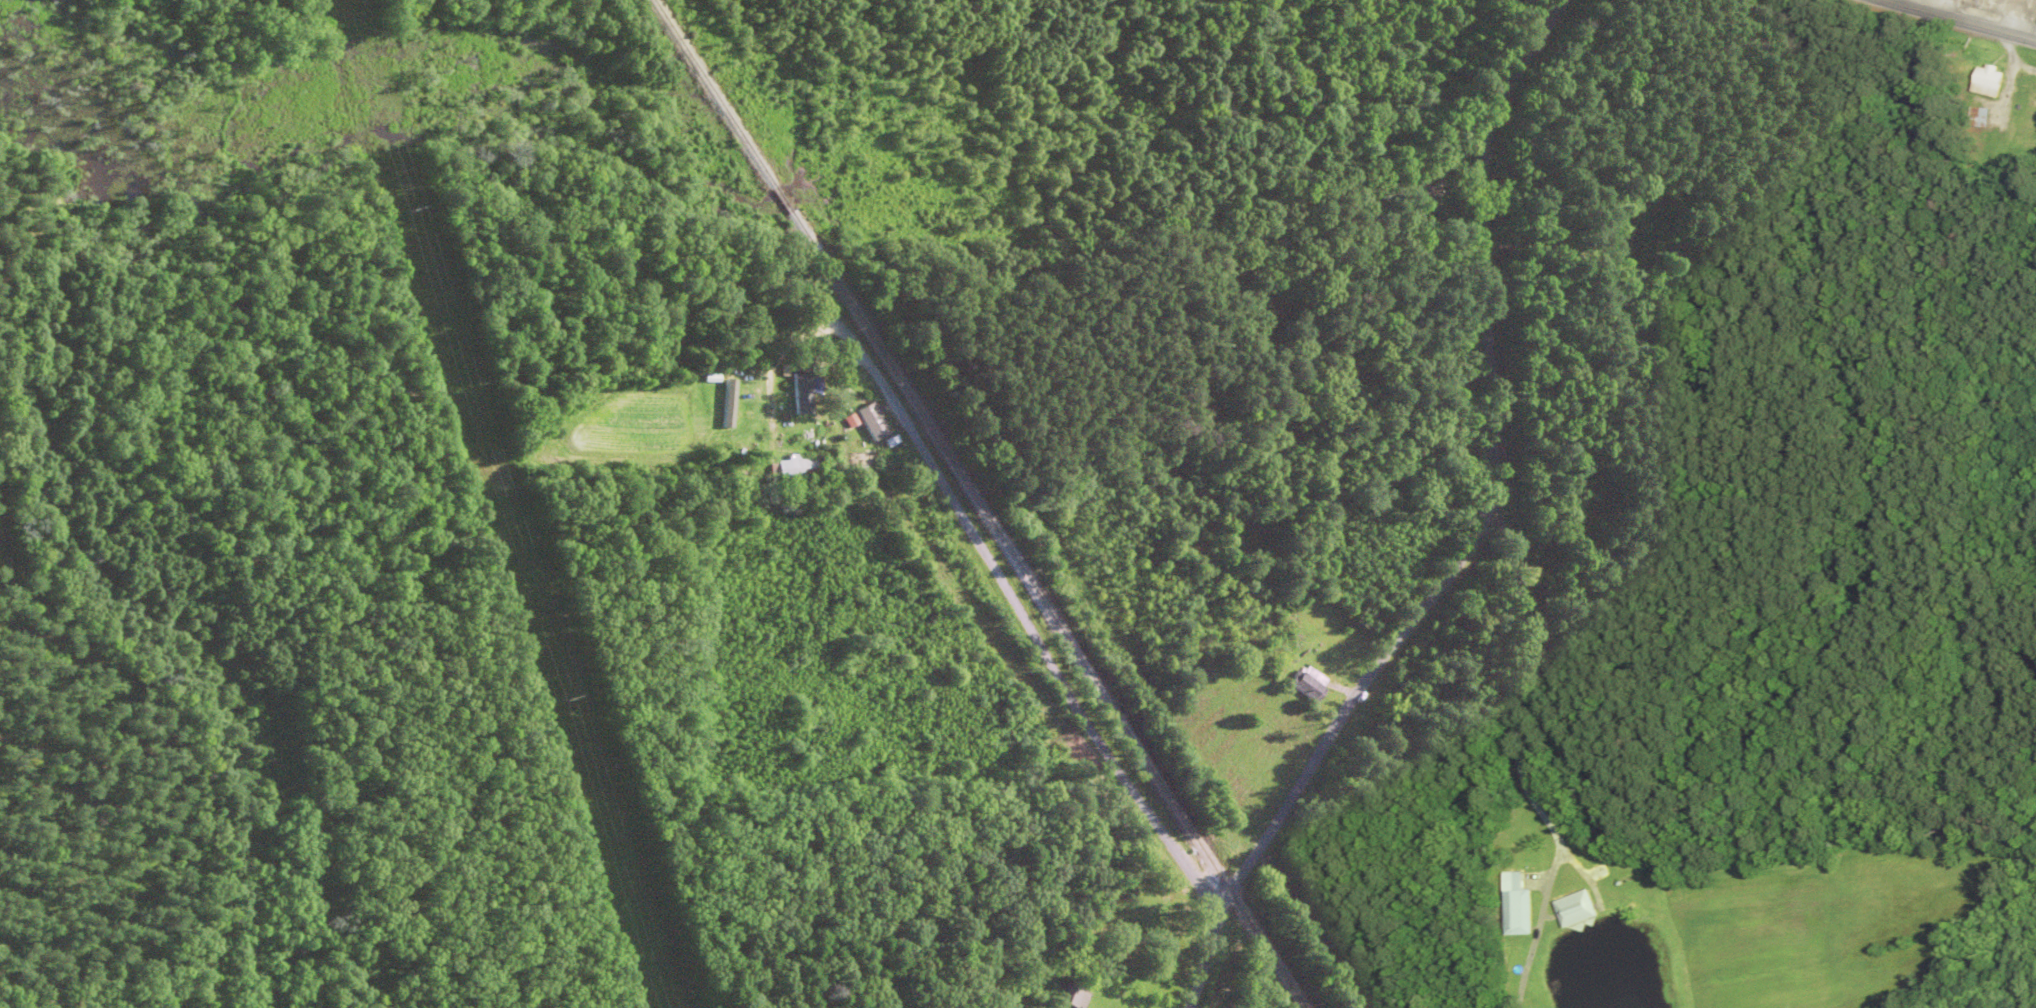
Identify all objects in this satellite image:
road: (1957, 20)
building: (1990, 81)
building: (1426, 190)
building: (1662, 260)
building: (802, 393)
building: (867, 429)
building: (791, 469)
road: (1477, 475)
road: (931, 488)
building: (915, 497)
railway: (976, 505)
building: (1246, 598)
building: (1308, 683)
building: (1043, 739)
building: (1518, 905)
building: (1576, 909)
road: (1208, 949)
building: (1074, 995)

